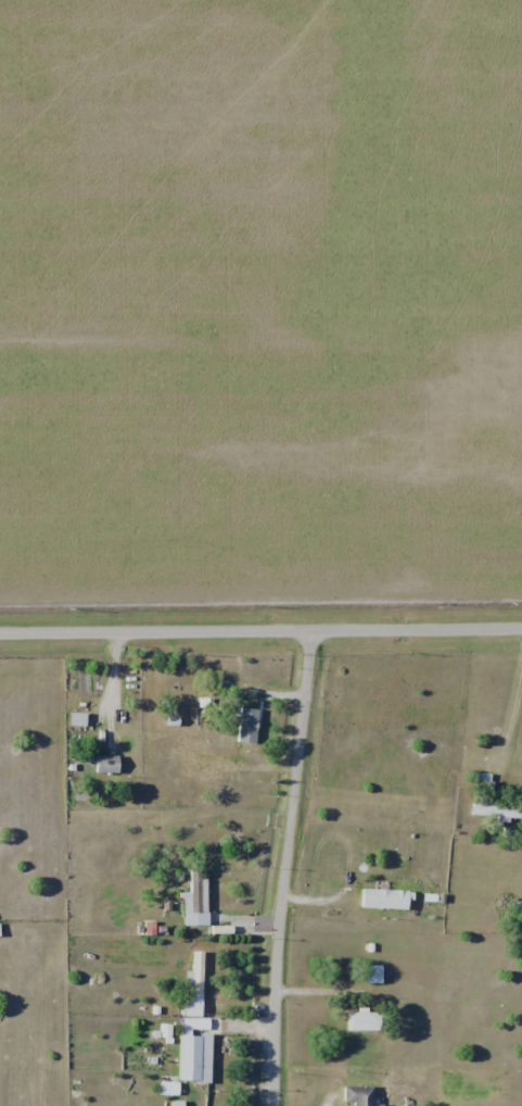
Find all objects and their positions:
road: (260, 631)
building: (75, 719)
building: (239, 728)
building: (174, 751)
building: (103, 764)
building: (489, 800)
road: (283, 867)
building: (194, 898)
building: (381, 898)
building: (371, 973)
building: (193, 988)
building: (361, 1021)
building: (193, 1057)
building: (357, 1095)

